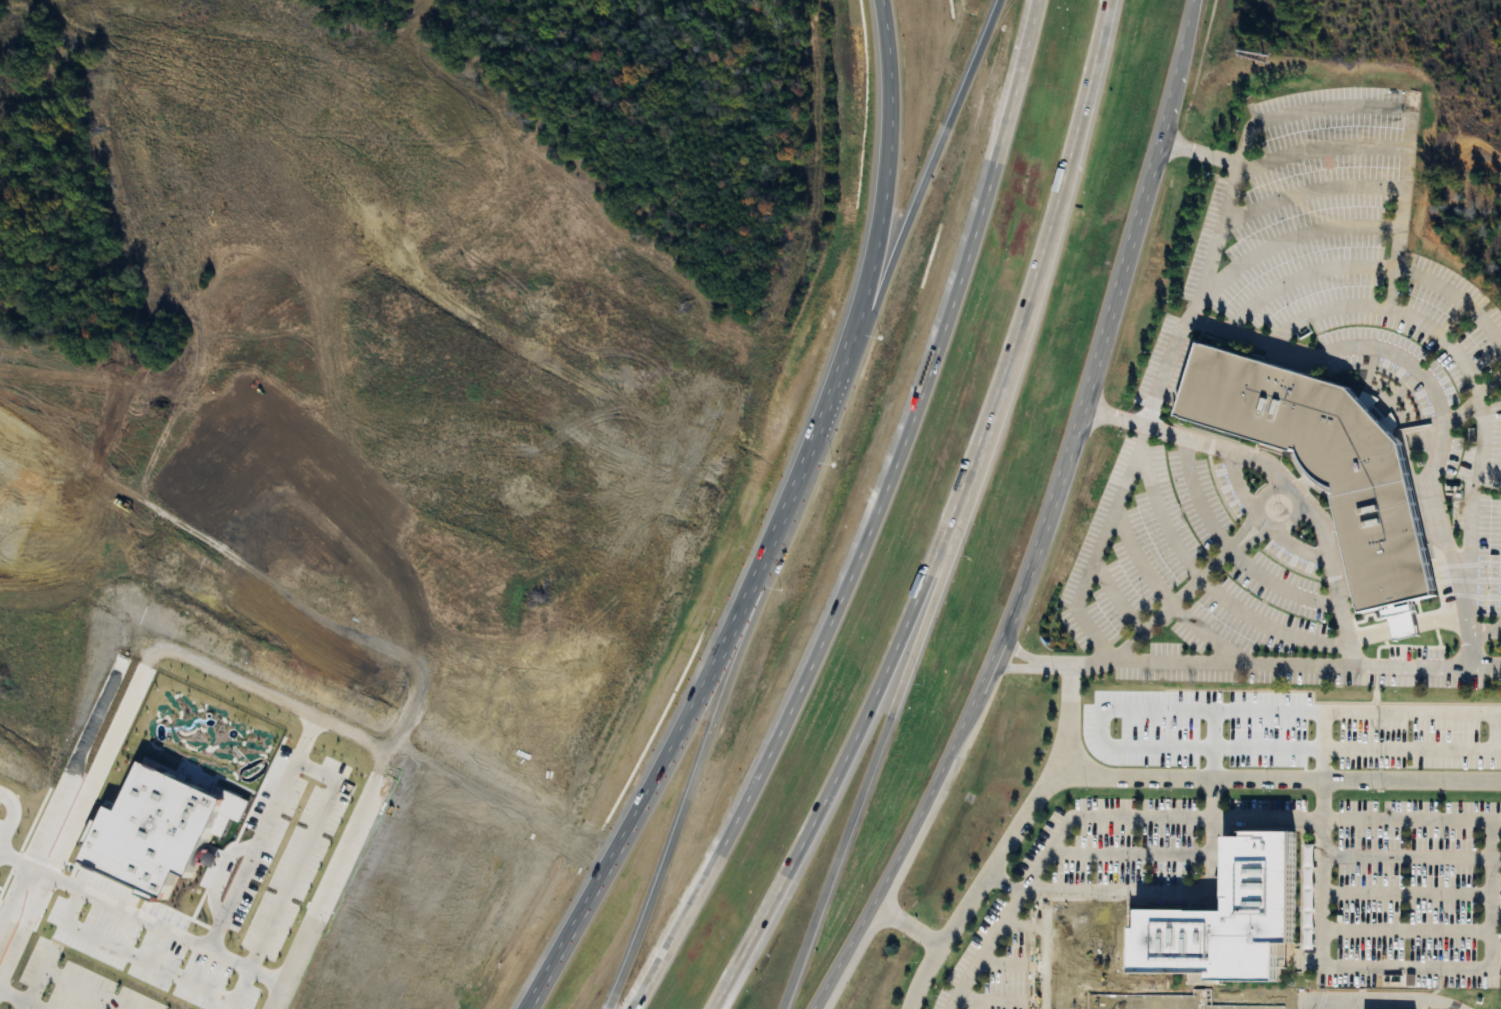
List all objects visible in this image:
road: (881, 89)
road: (1329, 107)
road: (1322, 149)
road: (1200, 153)
road: (1309, 191)
road: (1400, 208)
road: (911, 218)
road: (1290, 240)
road: (1369, 266)
road: (1253, 337)
road: (1169, 369)
road: (1422, 373)
road: (1471, 379)
parking lot: (1452, 385)
road: (1472, 403)
building: (1325, 461)
road: (1279, 478)
road: (1238, 484)
road: (1281, 488)
road: (872, 518)
road: (949, 520)
road: (1052, 524)
road: (1242, 531)
road: (1251, 540)
road: (1297, 548)
road: (1229, 552)
road: (1452, 573)
road: (1208, 586)
road: (1116, 598)
road: (1166, 598)
road: (740, 610)
road: (1147, 628)
road: (1406, 630)
road: (1092, 632)
road: (1484, 632)
road: (1023, 655)
road: (1298, 662)
road: (1496, 665)
road: (1496, 668)
road: (1014, 670)
road: (134, 677)
road: (360, 728)
road: (871, 753)
road: (1277, 777)
road: (693, 781)
road: (1281, 819)
road: (260, 825)
road: (1212, 833)
building: (161, 835)
road: (1008, 843)
road: (299, 850)
road: (1130, 855)
road: (1407, 858)
road: (1496, 859)
road: (1322, 872)
road: (1006, 882)
road: (323, 890)
road: (13, 891)
road: (1065, 892)
road: (1156, 893)
road: (1407, 893)
road: (1491, 894)
parking lot: (1418, 907)
road: (29, 912)
road: (1009, 912)
building: (1227, 919)
road: (166, 925)
road: (904, 925)
road: (1053, 927)
road: (1407, 932)
road: (1106, 950)
road: (148, 958)
road: (1042, 963)
road: (1407, 967)
road: (61, 980)
road: (20, 999)
road: (1055, 1001)
road: (1337, 1001)
road: (1156, 1006)

